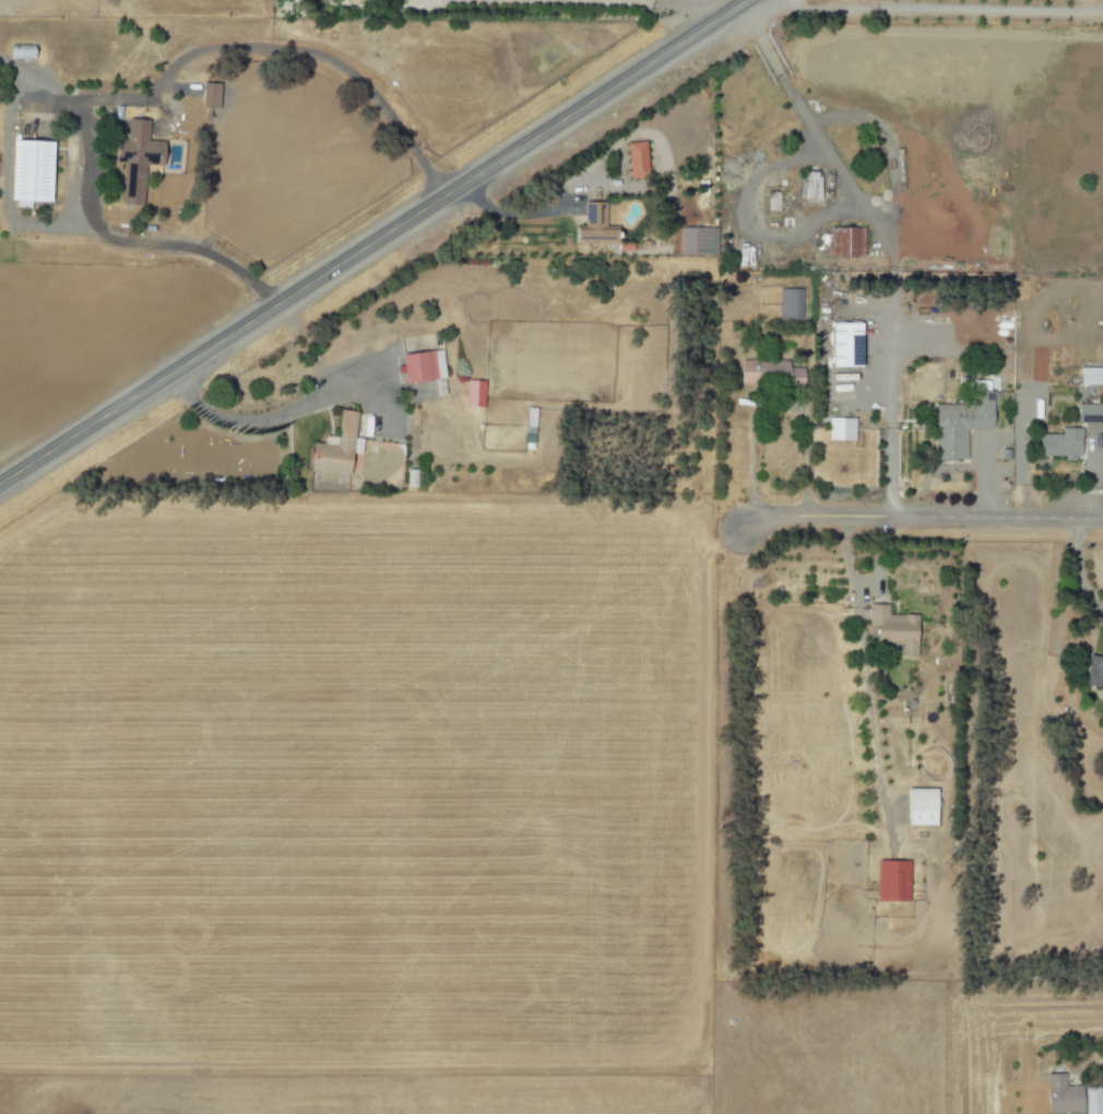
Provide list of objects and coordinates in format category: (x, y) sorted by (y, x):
road: (653, 2)
road: (938, 8)
road: (310, 52)
building: (209, 95)
road: (108, 97)
building: (634, 158)
building: (134, 159)
road: (4, 171)
building: (28, 171)
building: (808, 186)
building: (771, 201)
road: (844, 203)
road: (513, 212)
building: (592, 225)
building: (690, 240)
building: (843, 241)
road: (142, 242)
road: (373, 242)
building: (788, 304)
building: (843, 344)
building: (422, 366)
building: (762, 371)
building: (1090, 376)
building: (472, 392)
building: (1089, 413)
road: (262, 416)
road: (887, 424)
building: (958, 424)
building: (840, 428)
road: (805, 435)
building: (1058, 443)
building: (333, 448)
road: (749, 458)
road: (918, 514)
road: (1077, 568)
road: (864, 581)
building: (892, 629)
building: (1093, 674)
road: (866, 715)
crop: (356, 785)
building: (918, 806)
building: (891, 880)
building: (1059, 1095)
building: (1091, 1101)

